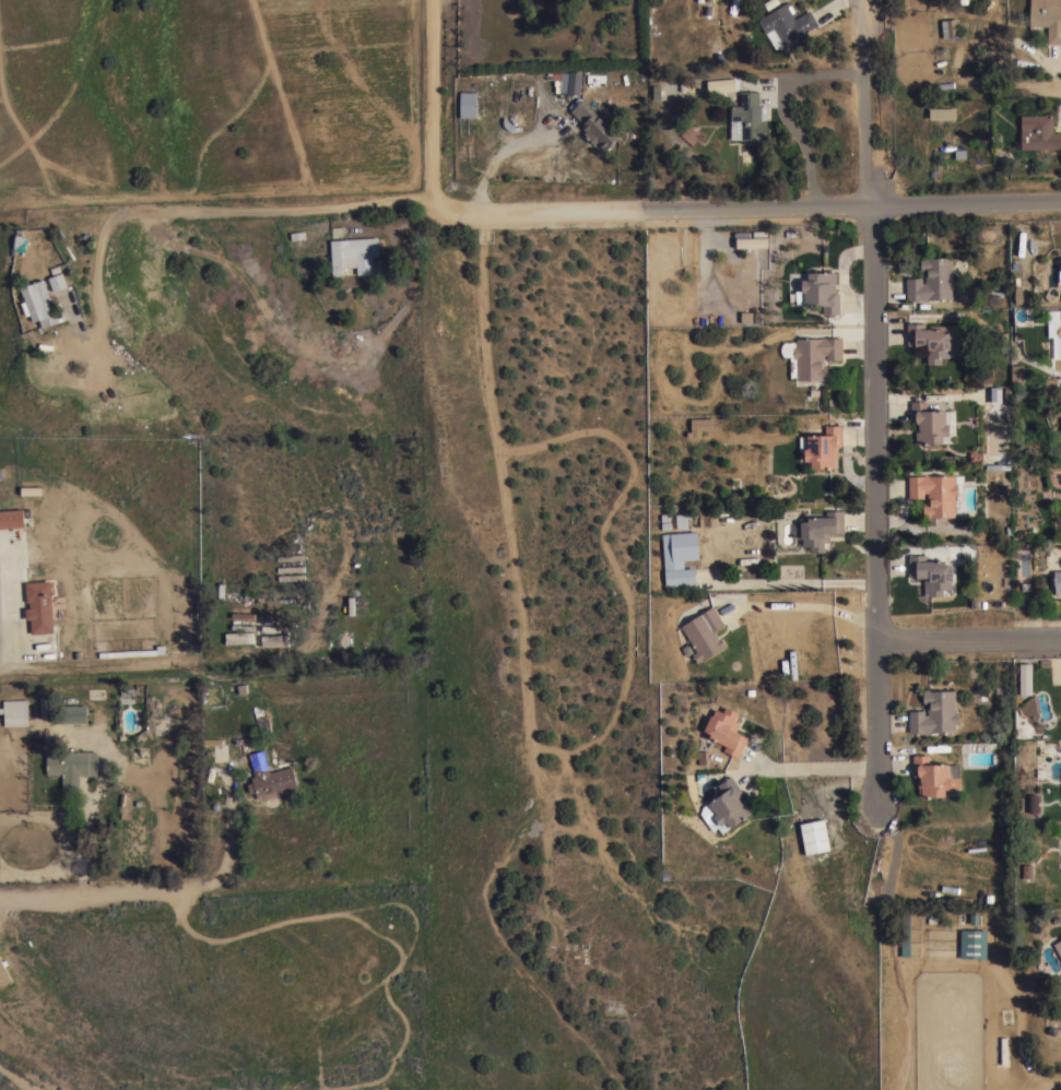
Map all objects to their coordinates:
building: (1047, 17)
building: (786, 22)
building: (948, 27)
building: (771, 38)
building: (594, 78)
building: (566, 82)
building: (719, 85)
road: (1033, 85)
building: (468, 104)
road: (433, 106)
road: (786, 107)
building: (942, 112)
building: (747, 117)
building: (592, 123)
building: (1039, 131)
road: (508, 143)
road: (746, 208)
road: (197, 212)
building: (297, 234)
building: (20, 241)
building: (750, 241)
building: (354, 253)
building: (932, 280)
building: (58, 281)
building: (821, 291)
building: (39, 304)
building: (750, 317)
building: (1059, 332)
building: (929, 340)
building: (815, 355)
building: (990, 375)
building: (1016, 375)
building: (995, 393)
road: (873, 401)
building: (928, 423)
building: (698, 425)
building: (822, 446)
building: (31, 490)
building: (934, 494)
building: (11, 519)
building: (681, 520)
building: (820, 529)
building: (290, 557)
building: (680, 557)
building: (291, 568)
building: (931, 572)
building: (1057, 582)
building: (38, 606)
road: (809, 606)
road: (13, 609)
building: (704, 632)
building: (238, 637)
road: (971, 638)
building: (274, 639)
building: (133, 652)
building: (1023, 678)
building: (161, 688)
park: (553, 694)
building: (46, 706)
building: (15, 712)
building: (934, 712)
building: (72, 713)
building: (726, 730)
building: (70, 766)
road: (810, 768)
building: (934, 775)
building: (269, 777)
building: (1033, 803)
building: (726, 804)
building: (814, 833)
road: (84, 842)
road: (170, 891)
building: (905, 934)
building: (972, 943)
building: (1058, 947)
building: (2, 976)

